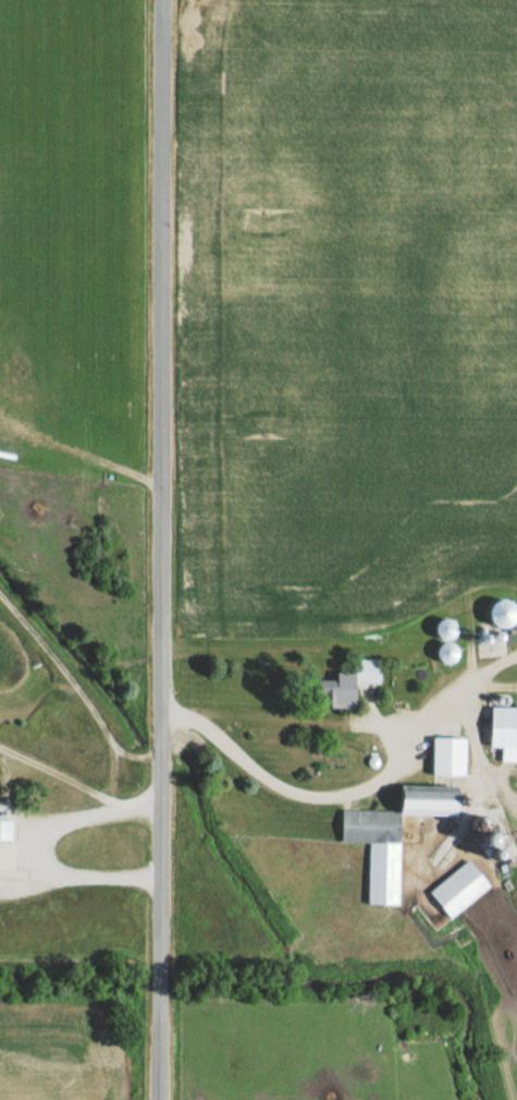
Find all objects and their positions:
road: (159, 549)
building: (447, 629)
road: (478, 664)
building: (344, 688)
road: (427, 708)
building: (505, 733)
road: (477, 748)
building: (450, 757)
road: (291, 793)
building: (395, 835)
road: (41, 850)
building: (460, 889)

